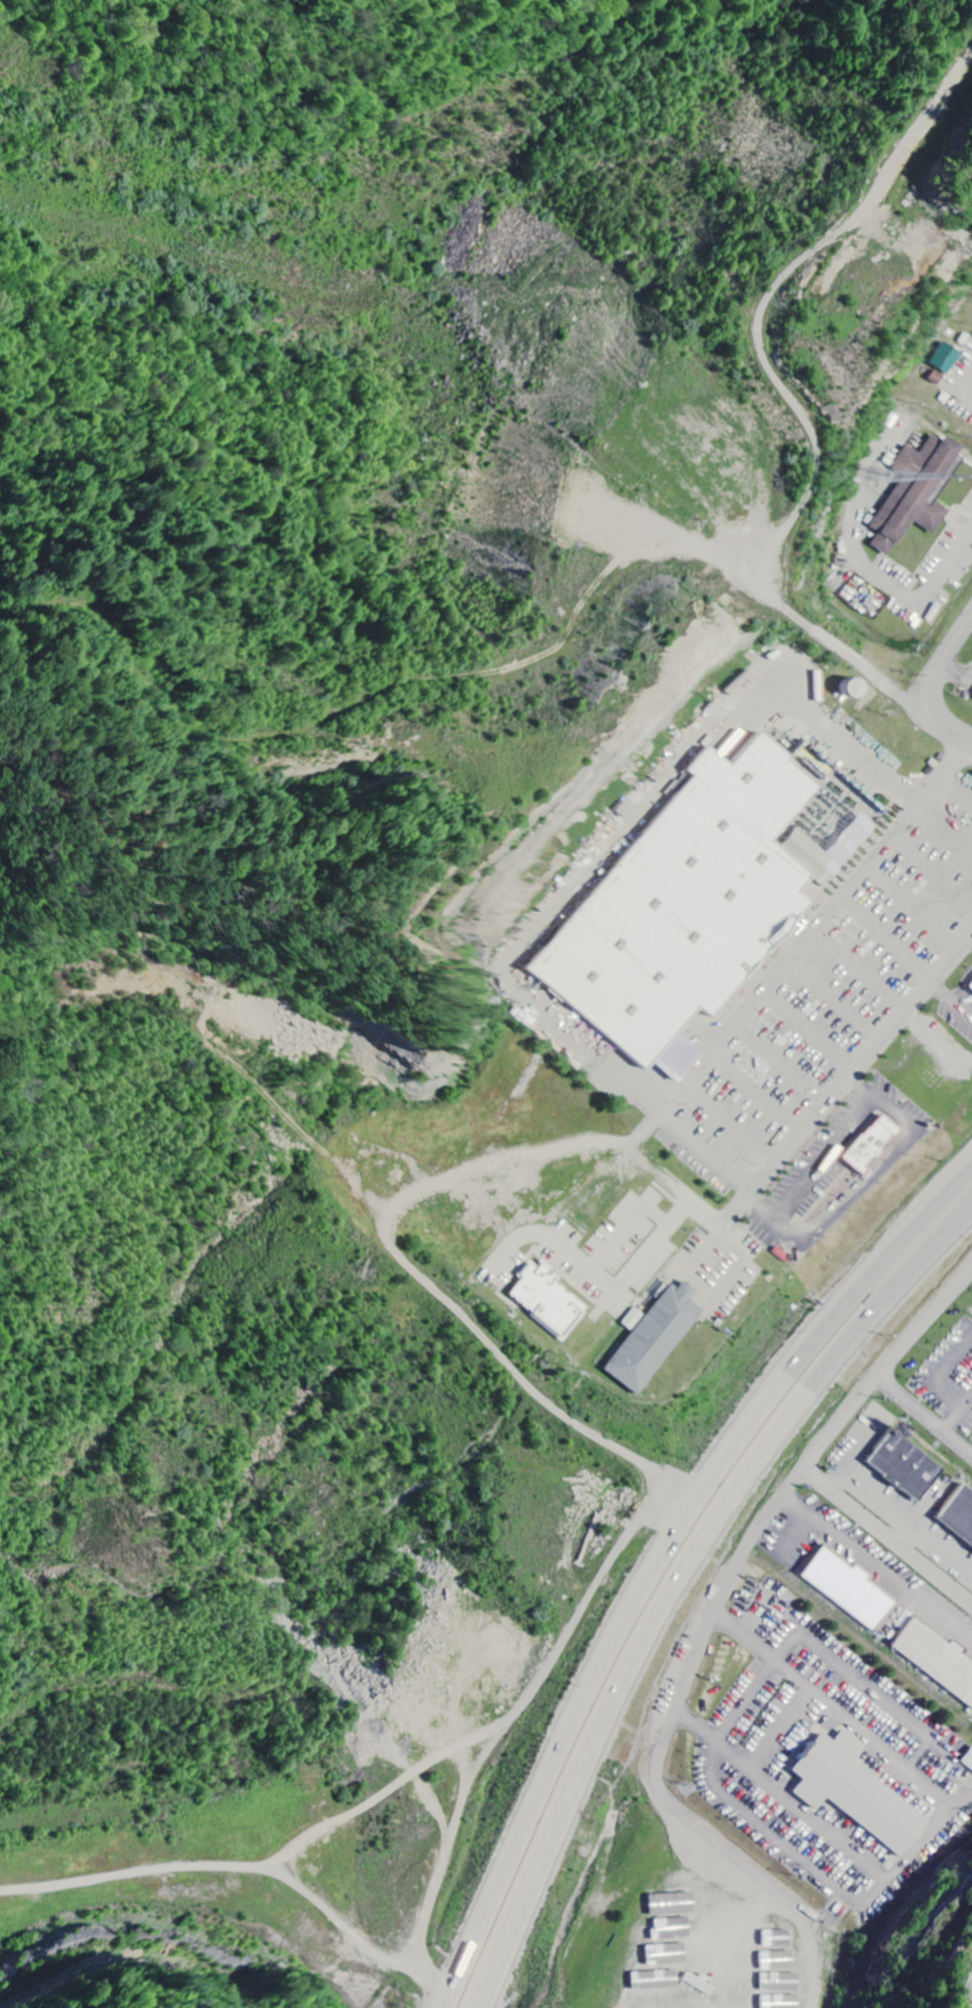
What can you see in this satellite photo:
road: (962, 379)
building: (916, 491)
road: (867, 562)
road: (955, 676)
road: (926, 688)
road: (678, 768)
road: (956, 792)
road: (944, 832)
road: (932, 873)
building: (683, 906)
road: (910, 909)
road: (811, 929)
road: (885, 939)
road: (857, 972)
building: (971, 989)
road: (830, 1002)
road: (805, 1031)
building: (670, 1061)
road: (777, 1065)
road: (612, 1071)
road: (849, 1075)
road: (752, 1096)
road: (726, 1126)
building: (866, 1147)
road: (701, 1154)
road: (818, 1163)
road: (868, 1183)
building: (547, 1300)
building: (646, 1342)
building: (907, 1465)
road: (794, 1475)
building: (960, 1514)
road: (658, 1557)
road: (680, 1582)
building: (851, 1588)
building: (938, 1657)
building: (968, 1760)
building: (859, 1793)
building: (673, 1904)
building: (669, 1954)
building: (656, 1980)

